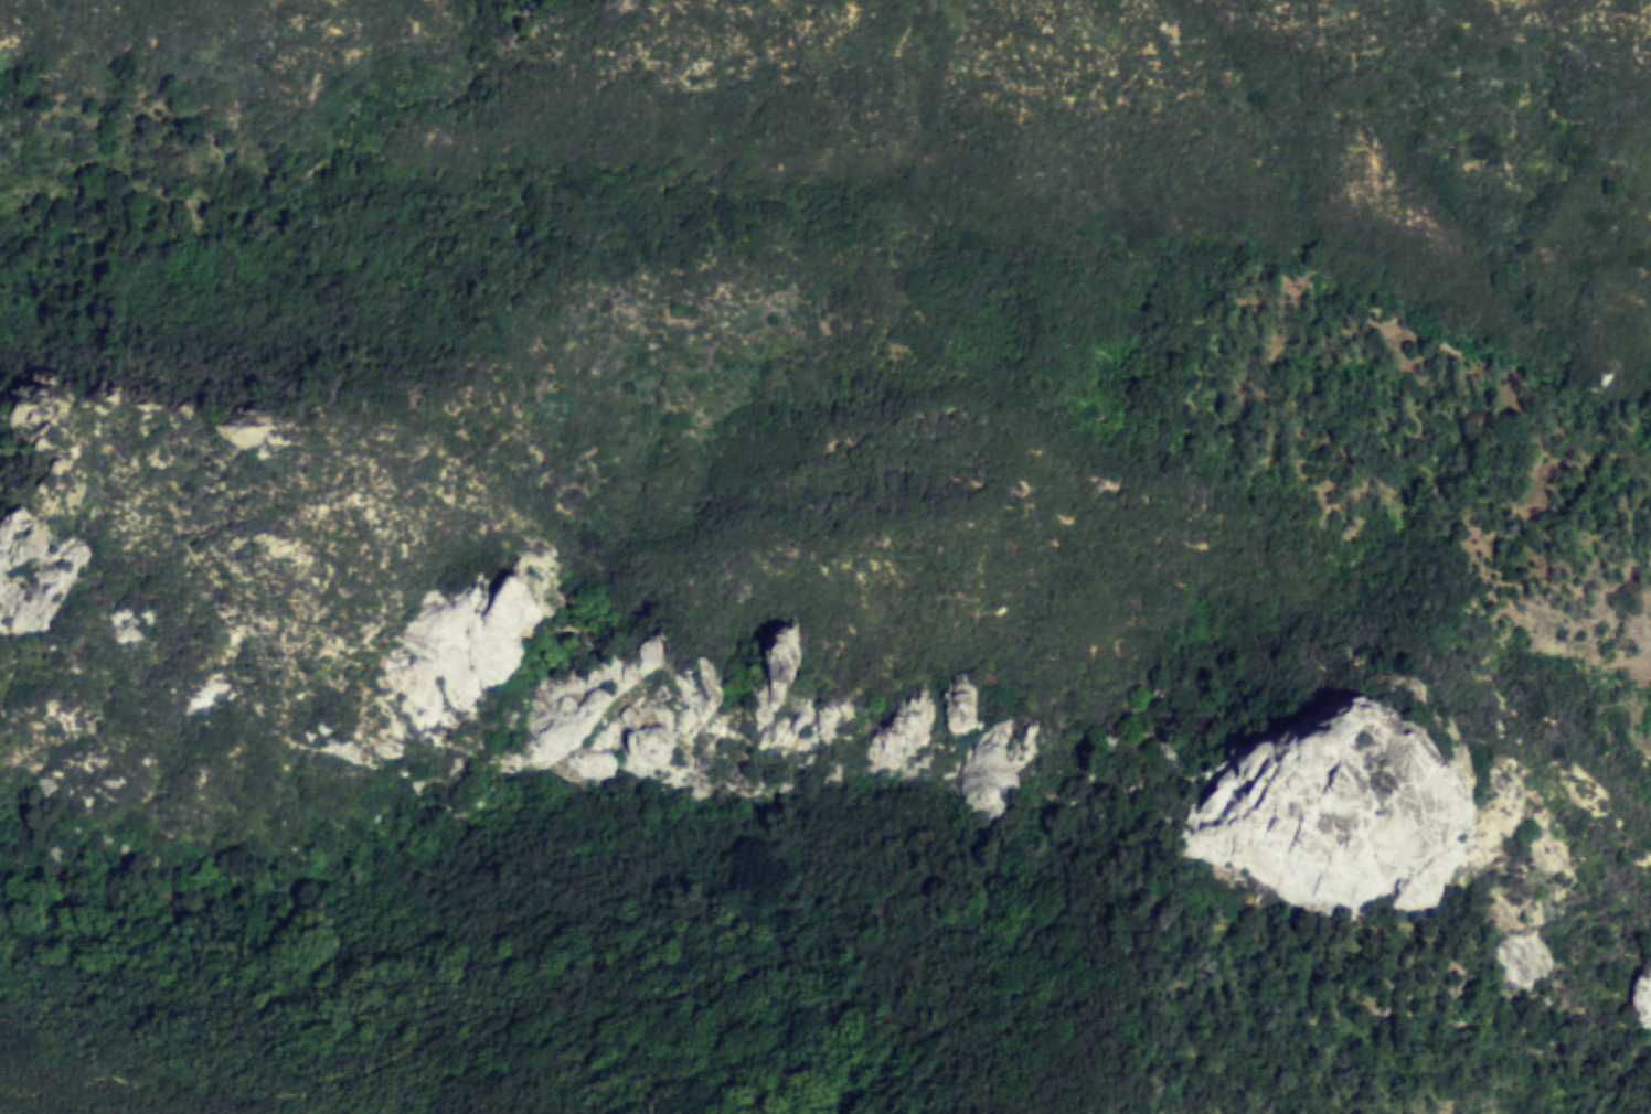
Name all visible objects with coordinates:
road: (1084, 968)

